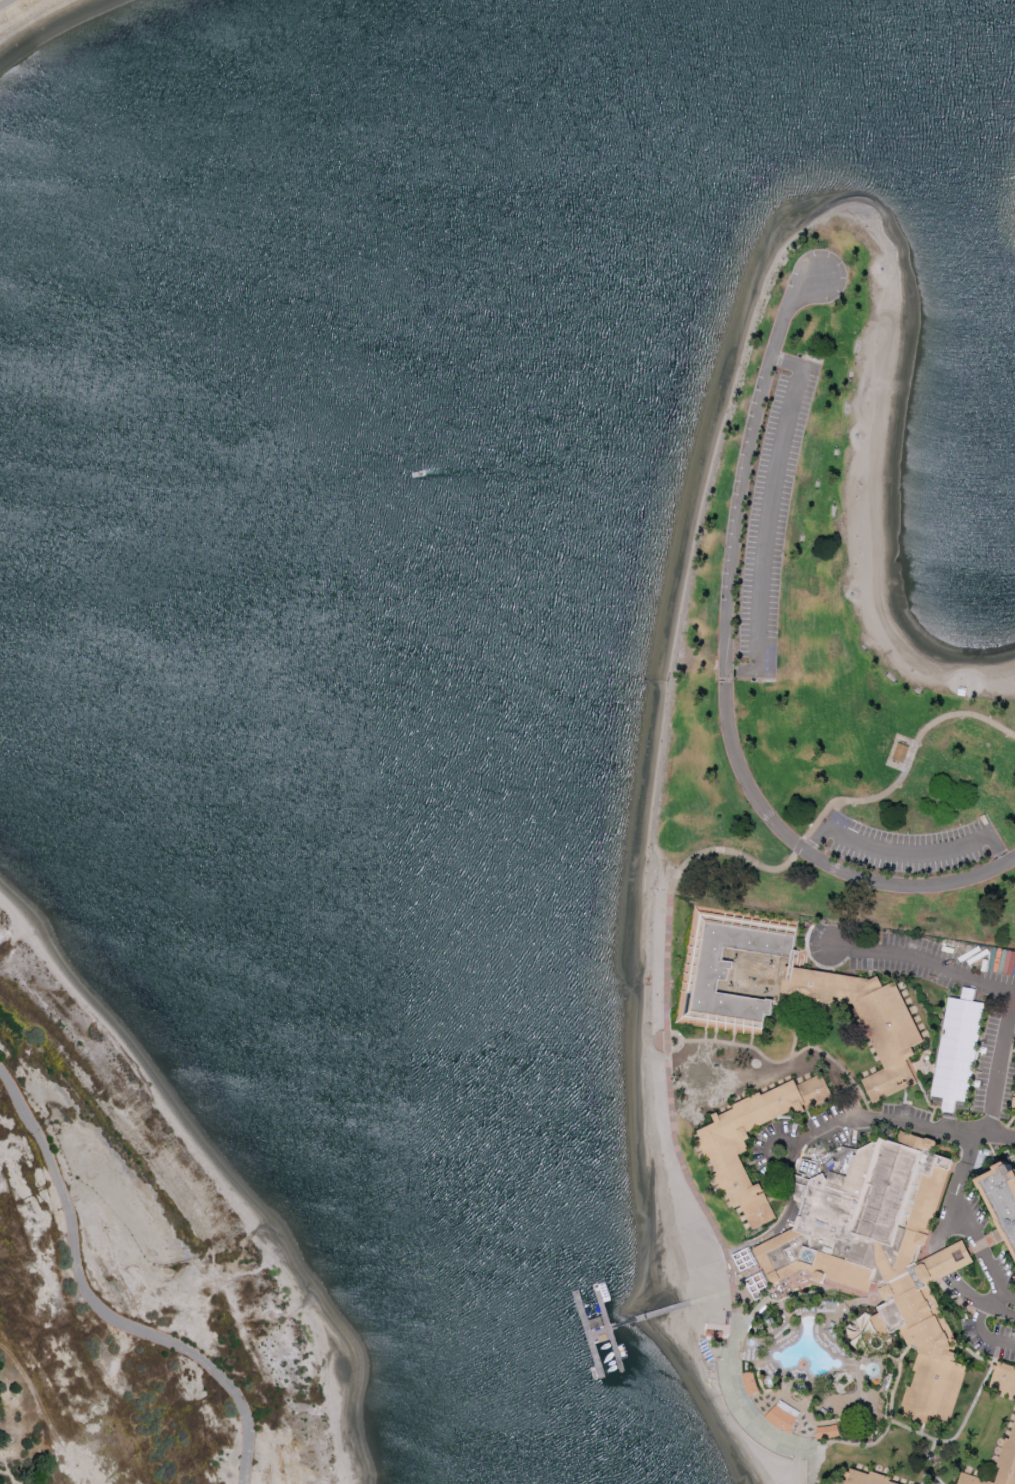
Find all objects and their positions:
road: (3, 2)
park: (15, 9)
parking lot: (775, 516)
road: (772, 518)
park: (829, 637)
road: (728, 676)
building: (901, 753)
parking lot: (916, 849)
road: (911, 853)
building: (783, 986)
road: (989, 986)
road: (667, 988)
road: (796, 1043)
road: (744, 1047)
building: (958, 1048)
road: (826, 1056)
building: (1014, 1106)
road: (895, 1123)
building: (725, 1150)
road: (960, 1175)
building: (1003, 1195)
road: (967, 1223)
building: (881, 1249)
building: (947, 1261)
road: (941, 1264)
park: (129, 1269)
road: (1006, 1299)
road: (105, 1300)
road: (977, 1303)
road: (1003, 1312)
pier: (641, 1321)
pier: (611, 1332)
road: (983, 1334)
pier: (589, 1336)
building: (1003, 1377)
building: (751, 1382)
building: (785, 1415)
building: (828, 1431)
road: (956, 1436)
road: (880, 1438)
building: (1011, 1445)
road: (928, 1462)
road: (933, 1475)
building: (865, 1479)

